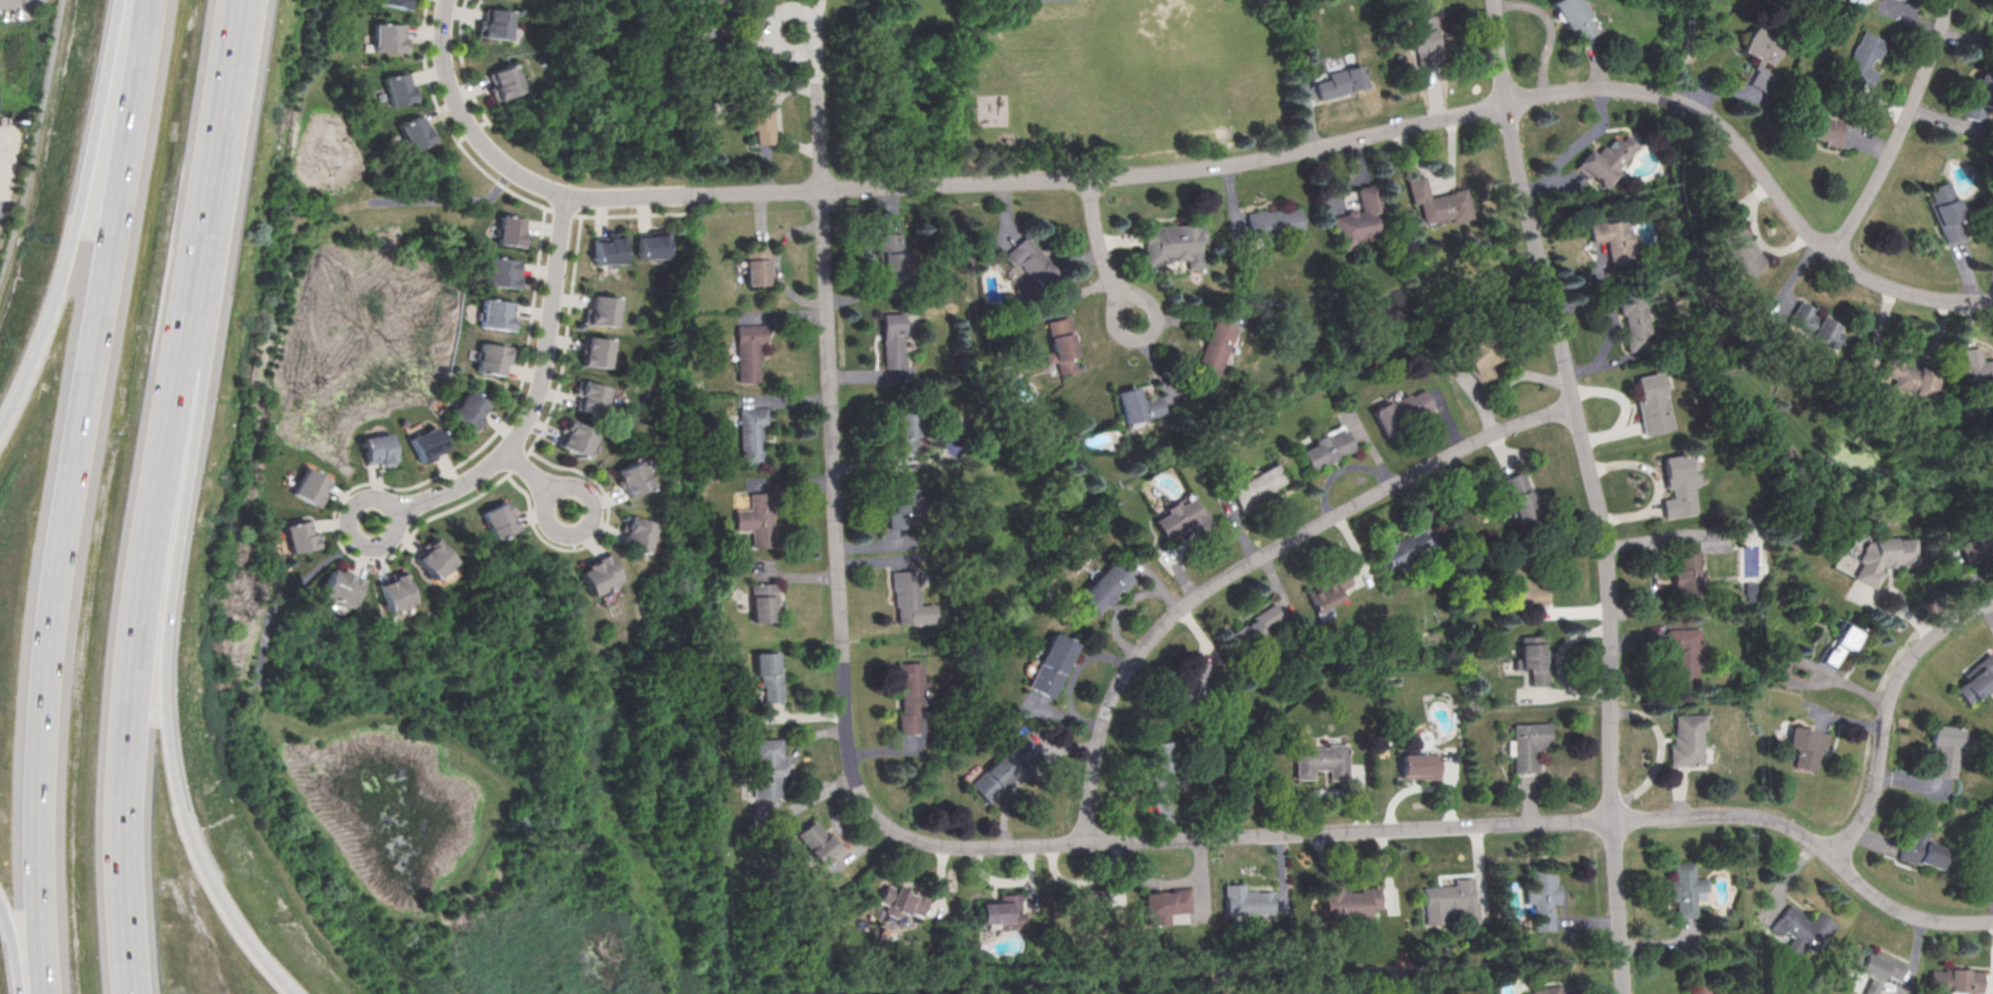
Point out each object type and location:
park: (1045, 1)
building: (1898, 1)
building: (399, 2)
building: (710, 2)
road: (808, 15)
building: (1572, 18)
building: (493, 23)
building: (1992, 32)
building: (388, 36)
building: (1424, 40)
building: (1761, 45)
building: (1868, 57)
building: (504, 80)
building: (1340, 81)
building: (398, 88)
building: (1982, 96)
road: (818, 104)
building: (758, 116)
road: (465, 120)
building: (1821, 128)
building: (414, 131)
road: (1906, 132)
road: (36, 140)
road: (1575, 146)
road: (1317, 147)
road: (206, 158)
building: (1605, 160)
building: (1437, 201)
building: (1952, 211)
road: (69, 216)
building: (1358, 218)
building: (1271, 220)
building: (510, 231)
building: (1612, 239)
building: (1175, 242)
building: (652, 245)
building: (1736, 249)
building: (607, 250)
road: (1101, 253)
building: (892, 258)
building: (757, 264)
building: (1030, 266)
building: (502, 272)
building: (602, 310)
building: (495, 314)
building: (1631, 320)
building: (1814, 324)
building: (891, 339)
building: (1059, 344)
building: (750, 349)
building: (596, 351)
building: (1213, 351)
building: (1477, 355)
building: (492, 358)
building: (1977, 364)
building: (1909, 375)
road: (535, 390)
building: (590, 396)
building: (1651, 403)
building: (1137, 405)
building: (1399, 410)
building: (469, 411)
building: (901, 428)
building: (752, 432)
building: (576, 437)
building: (426, 443)
building: (1324, 448)
building: (378, 449)
road: (526, 473)
building: (631, 477)
building: (1677, 485)
building: (309, 486)
building: (1255, 488)
road: (1595, 492)
road: (832, 494)
road: (70, 495)
building: (1517, 497)
building: (898, 503)
building: (1183, 518)
building: (758, 519)
building: (498, 520)
road: (588, 524)
road: (351, 529)
building: (635, 533)
building: (299, 536)
building: (1976, 544)
building: (1403, 548)
building: (1883, 555)
road: (1257, 558)
building: (434, 559)
building: (1686, 571)
building: (598, 575)
building: (1522, 582)
building: (1103, 586)
building: (341, 587)
building: (394, 593)
building: (1326, 594)
building: (907, 598)
building: (763, 602)
building: (1256, 626)
building: (1841, 644)
road: (124, 652)
building: (1685, 653)
building: (1533, 658)
building: (1051, 665)
road: (158, 673)
building: (767, 675)
building: (1979, 679)
building: (1190, 685)
building: (908, 696)
road: (1889, 712)
building: (1688, 740)
building: (1810, 744)
building: (1531, 745)
building: (1947, 747)
building: (1327, 761)
road: (789, 763)
building: (1160, 764)
building: (1424, 765)
building: (765, 768)
building: (1000, 769)
road: (1432, 826)
building: (816, 842)
building: (1925, 847)
building: (1686, 888)
building: (1543, 898)
building: (900, 901)
building: (1084, 901)
building: (1246, 901)
building: (1452, 901)
building: (1345, 902)
building: (1164, 906)
building: (998, 909)
building: (1804, 926)
road: (7, 959)
building: (1881, 966)
building: (1958, 981)
building: (1701, 989)
building: (1544, 990)

